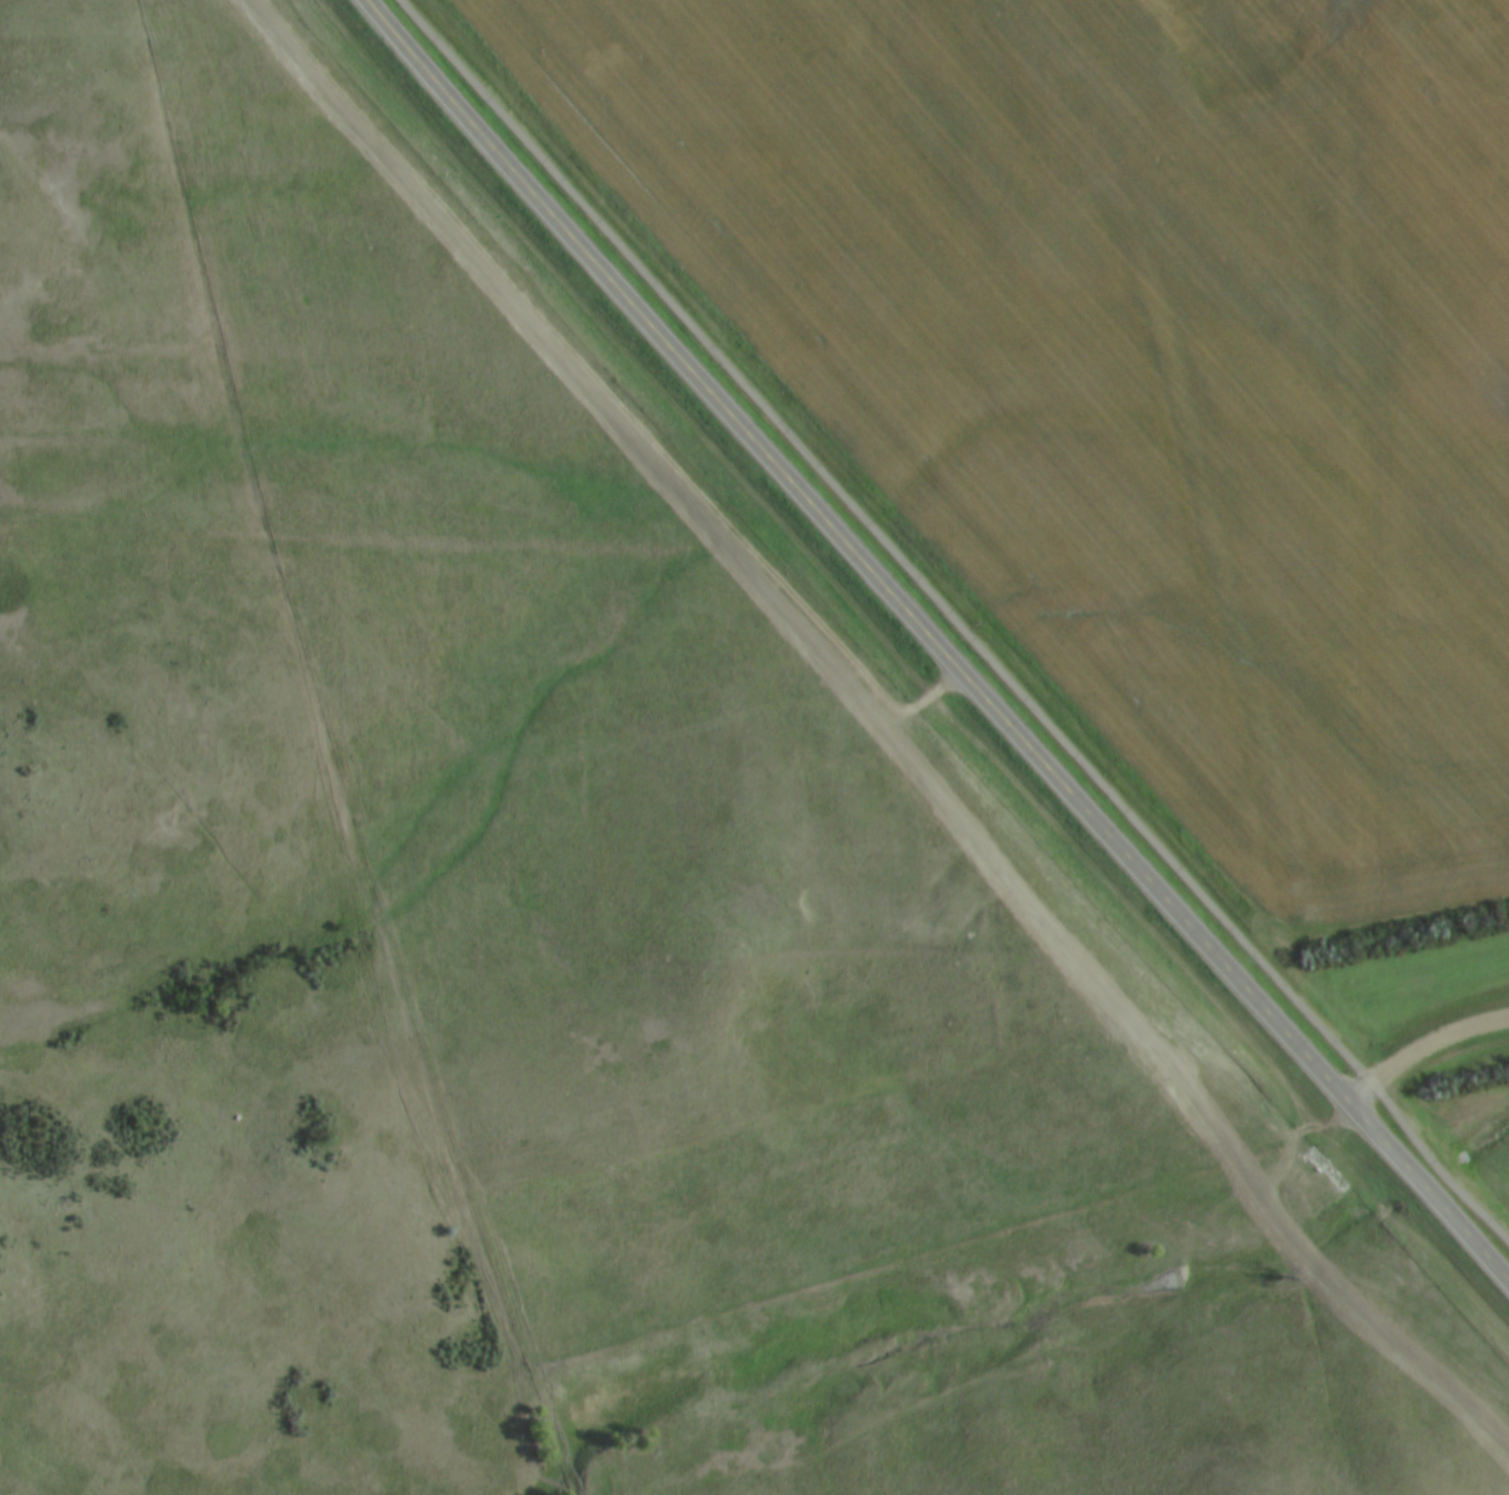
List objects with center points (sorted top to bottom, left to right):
road: (957, 620)
road: (935, 642)
road: (1424, 1061)

